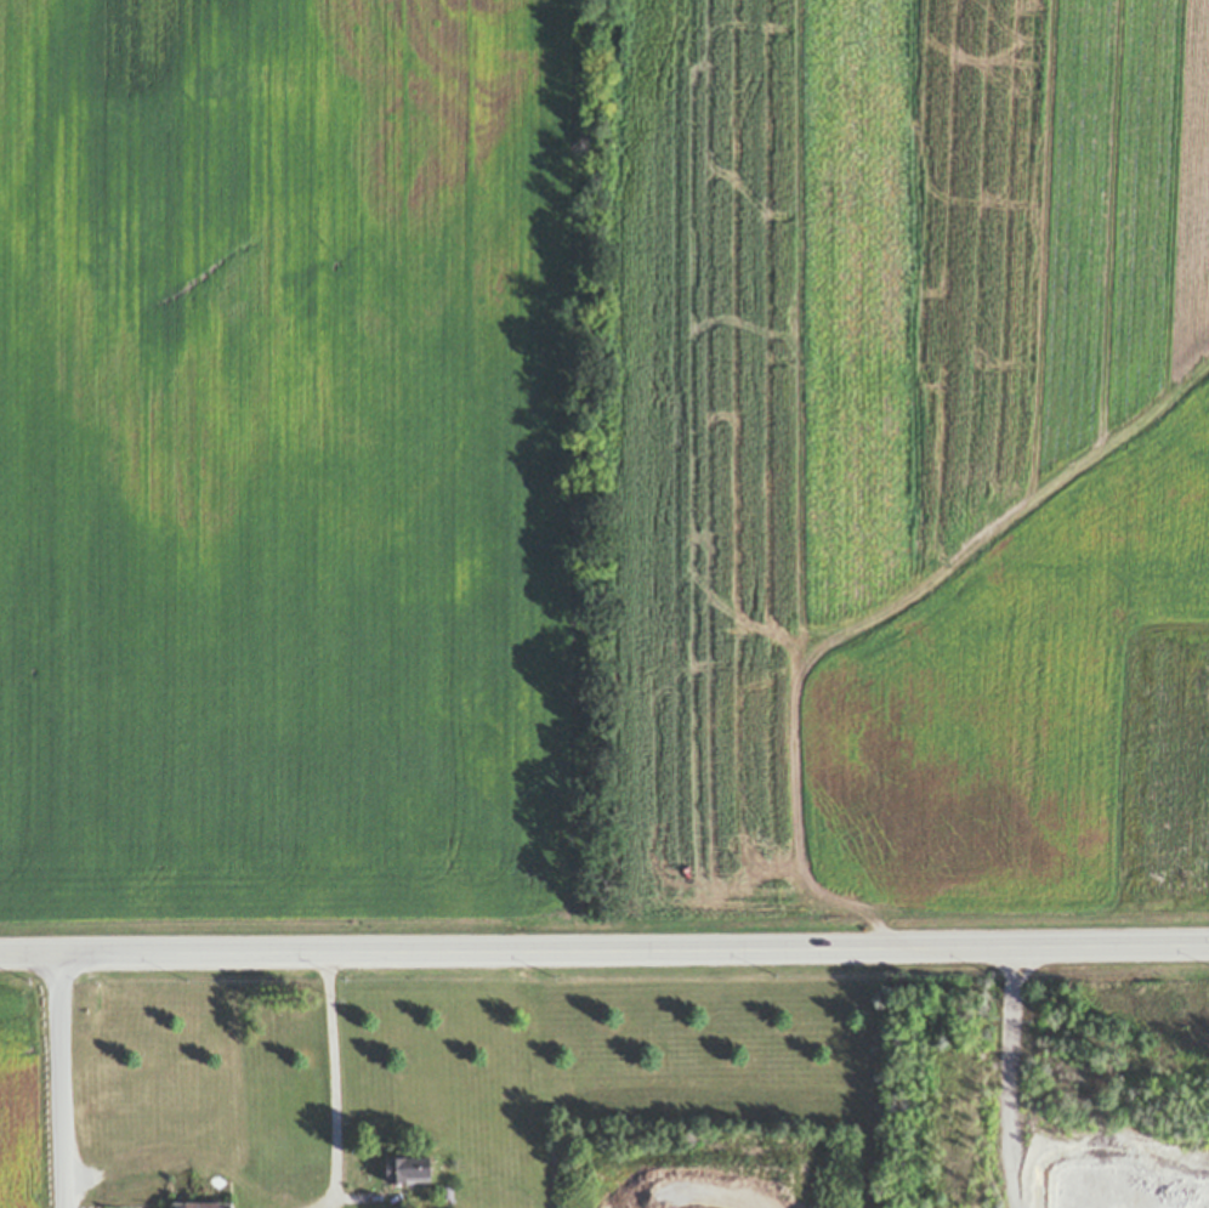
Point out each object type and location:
road: (604, 948)
road: (329, 1067)
road: (991, 1077)
road: (53, 1081)
building: (410, 1168)
quarry: (1111, 1169)
building: (456, 1191)
building: (200, 1204)
quarry: (632, 1204)

